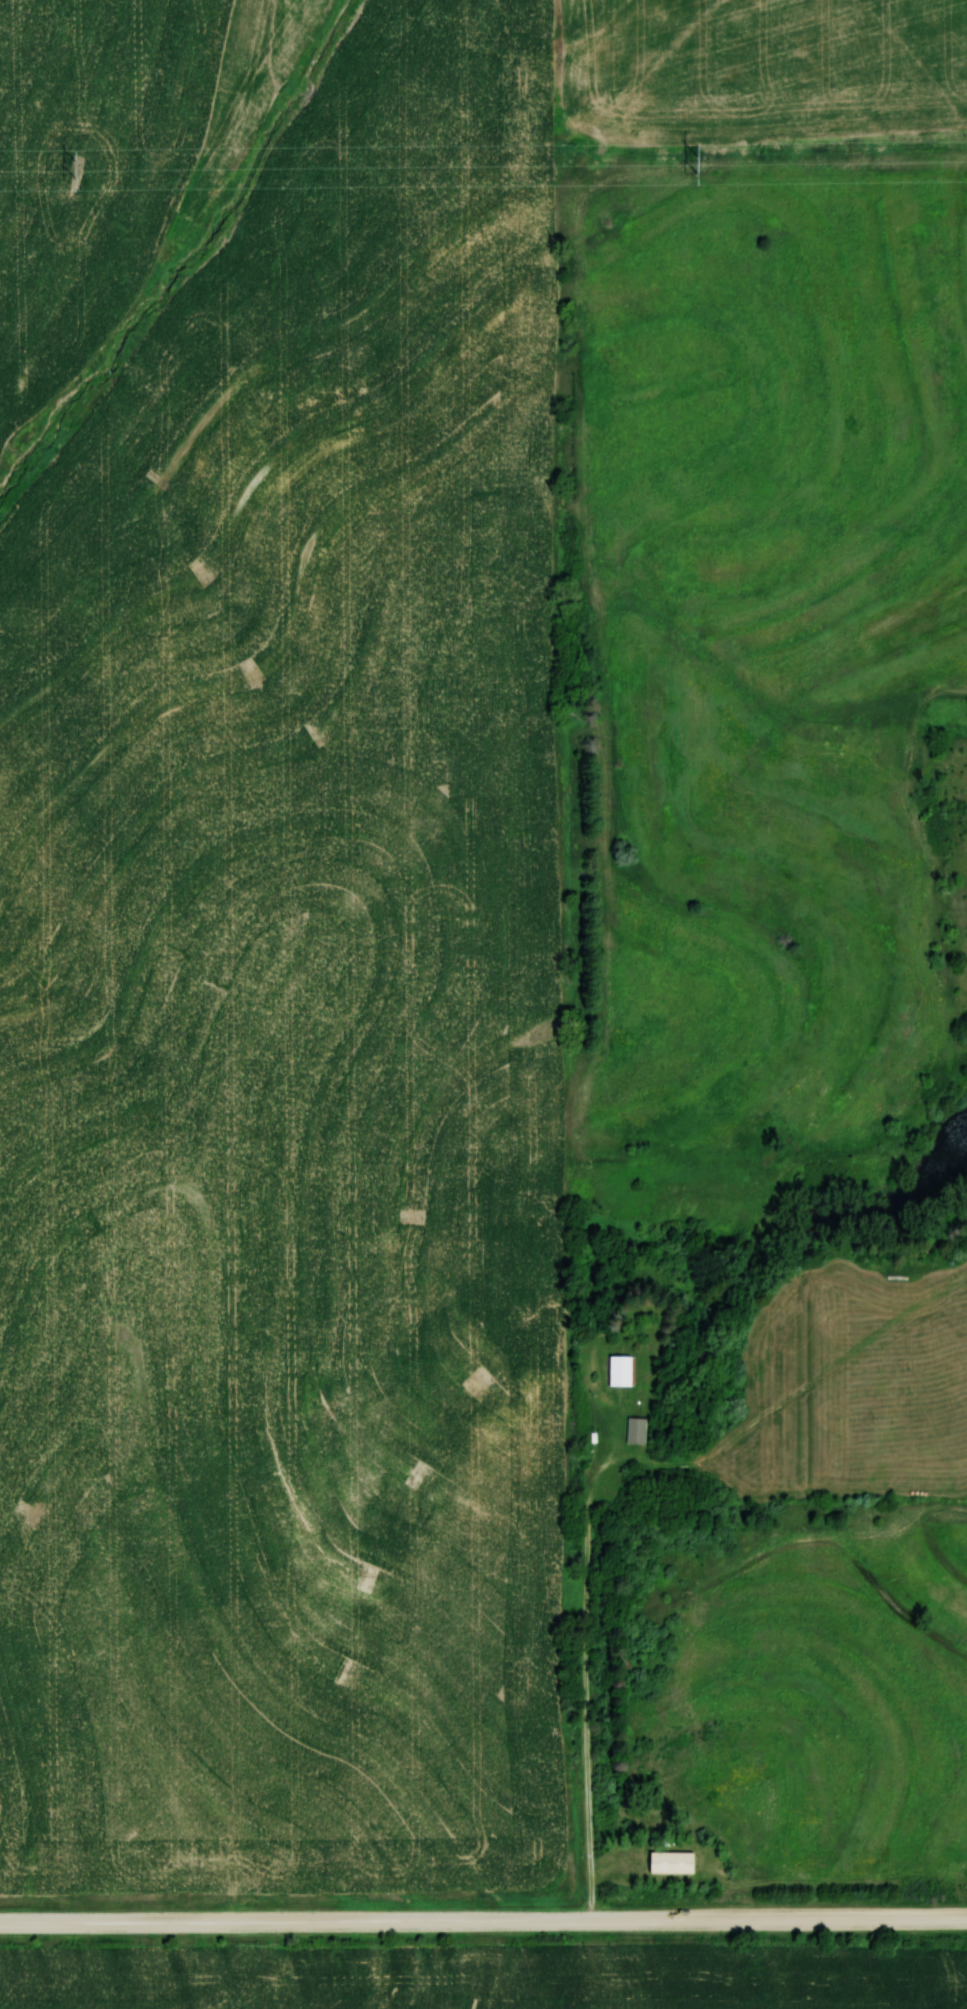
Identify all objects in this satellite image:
power tower: (698, 166)
power tower: (78, 173)
building: (619, 1370)
building: (635, 1435)
building: (670, 1862)
road: (483, 1918)

